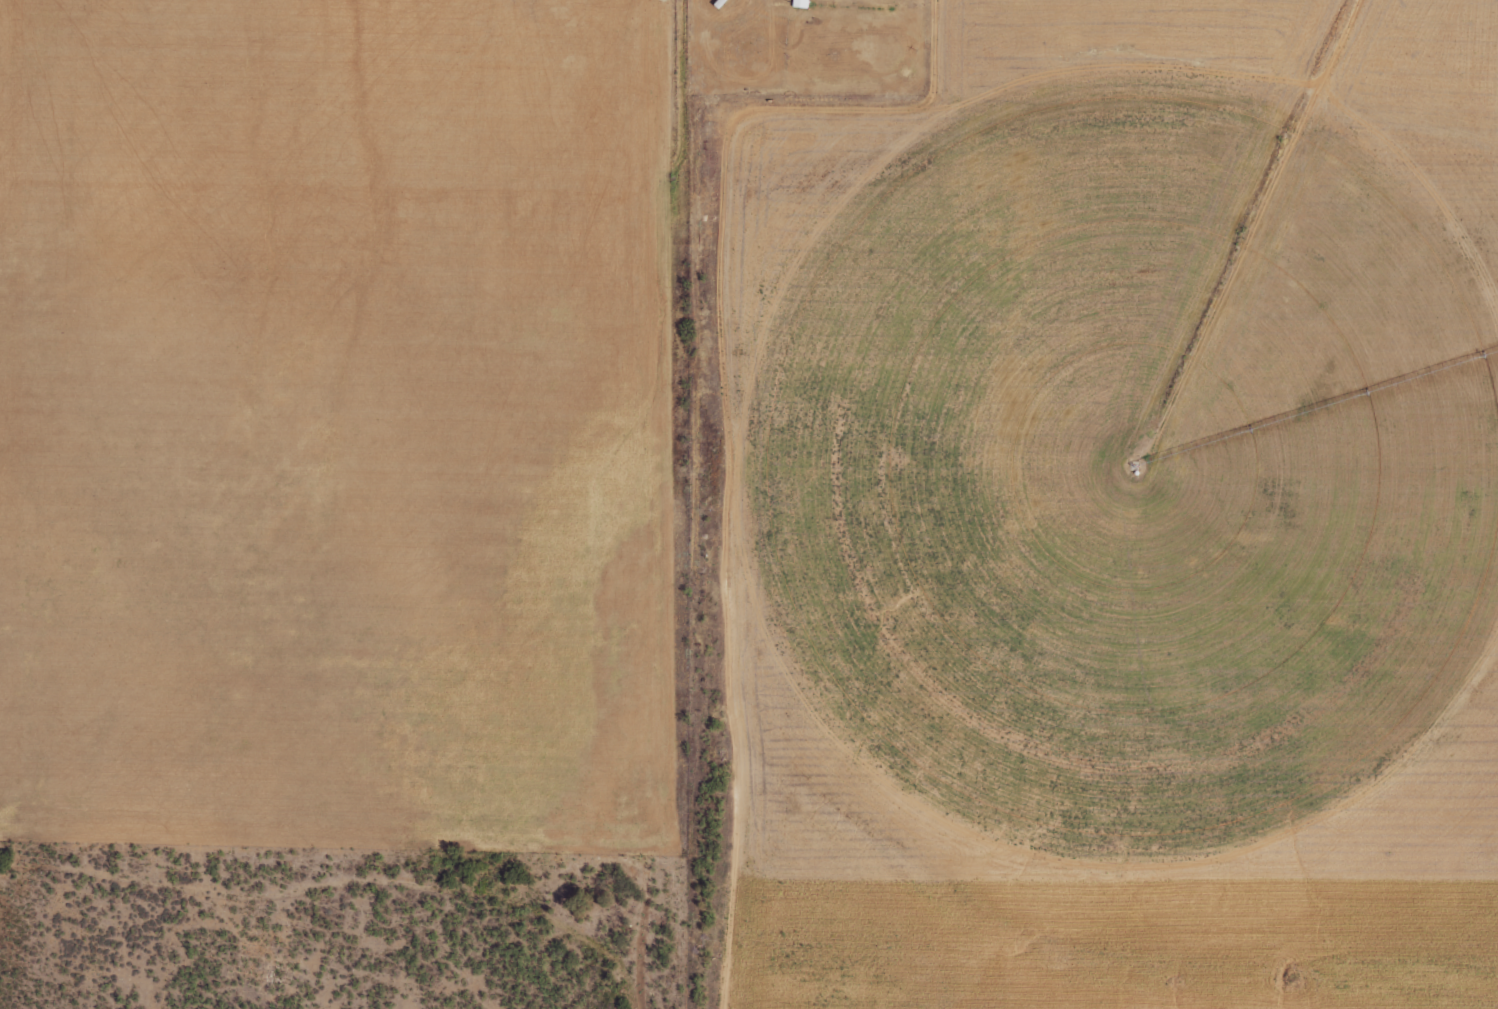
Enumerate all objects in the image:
building: (801, 3)
road: (289, 908)

